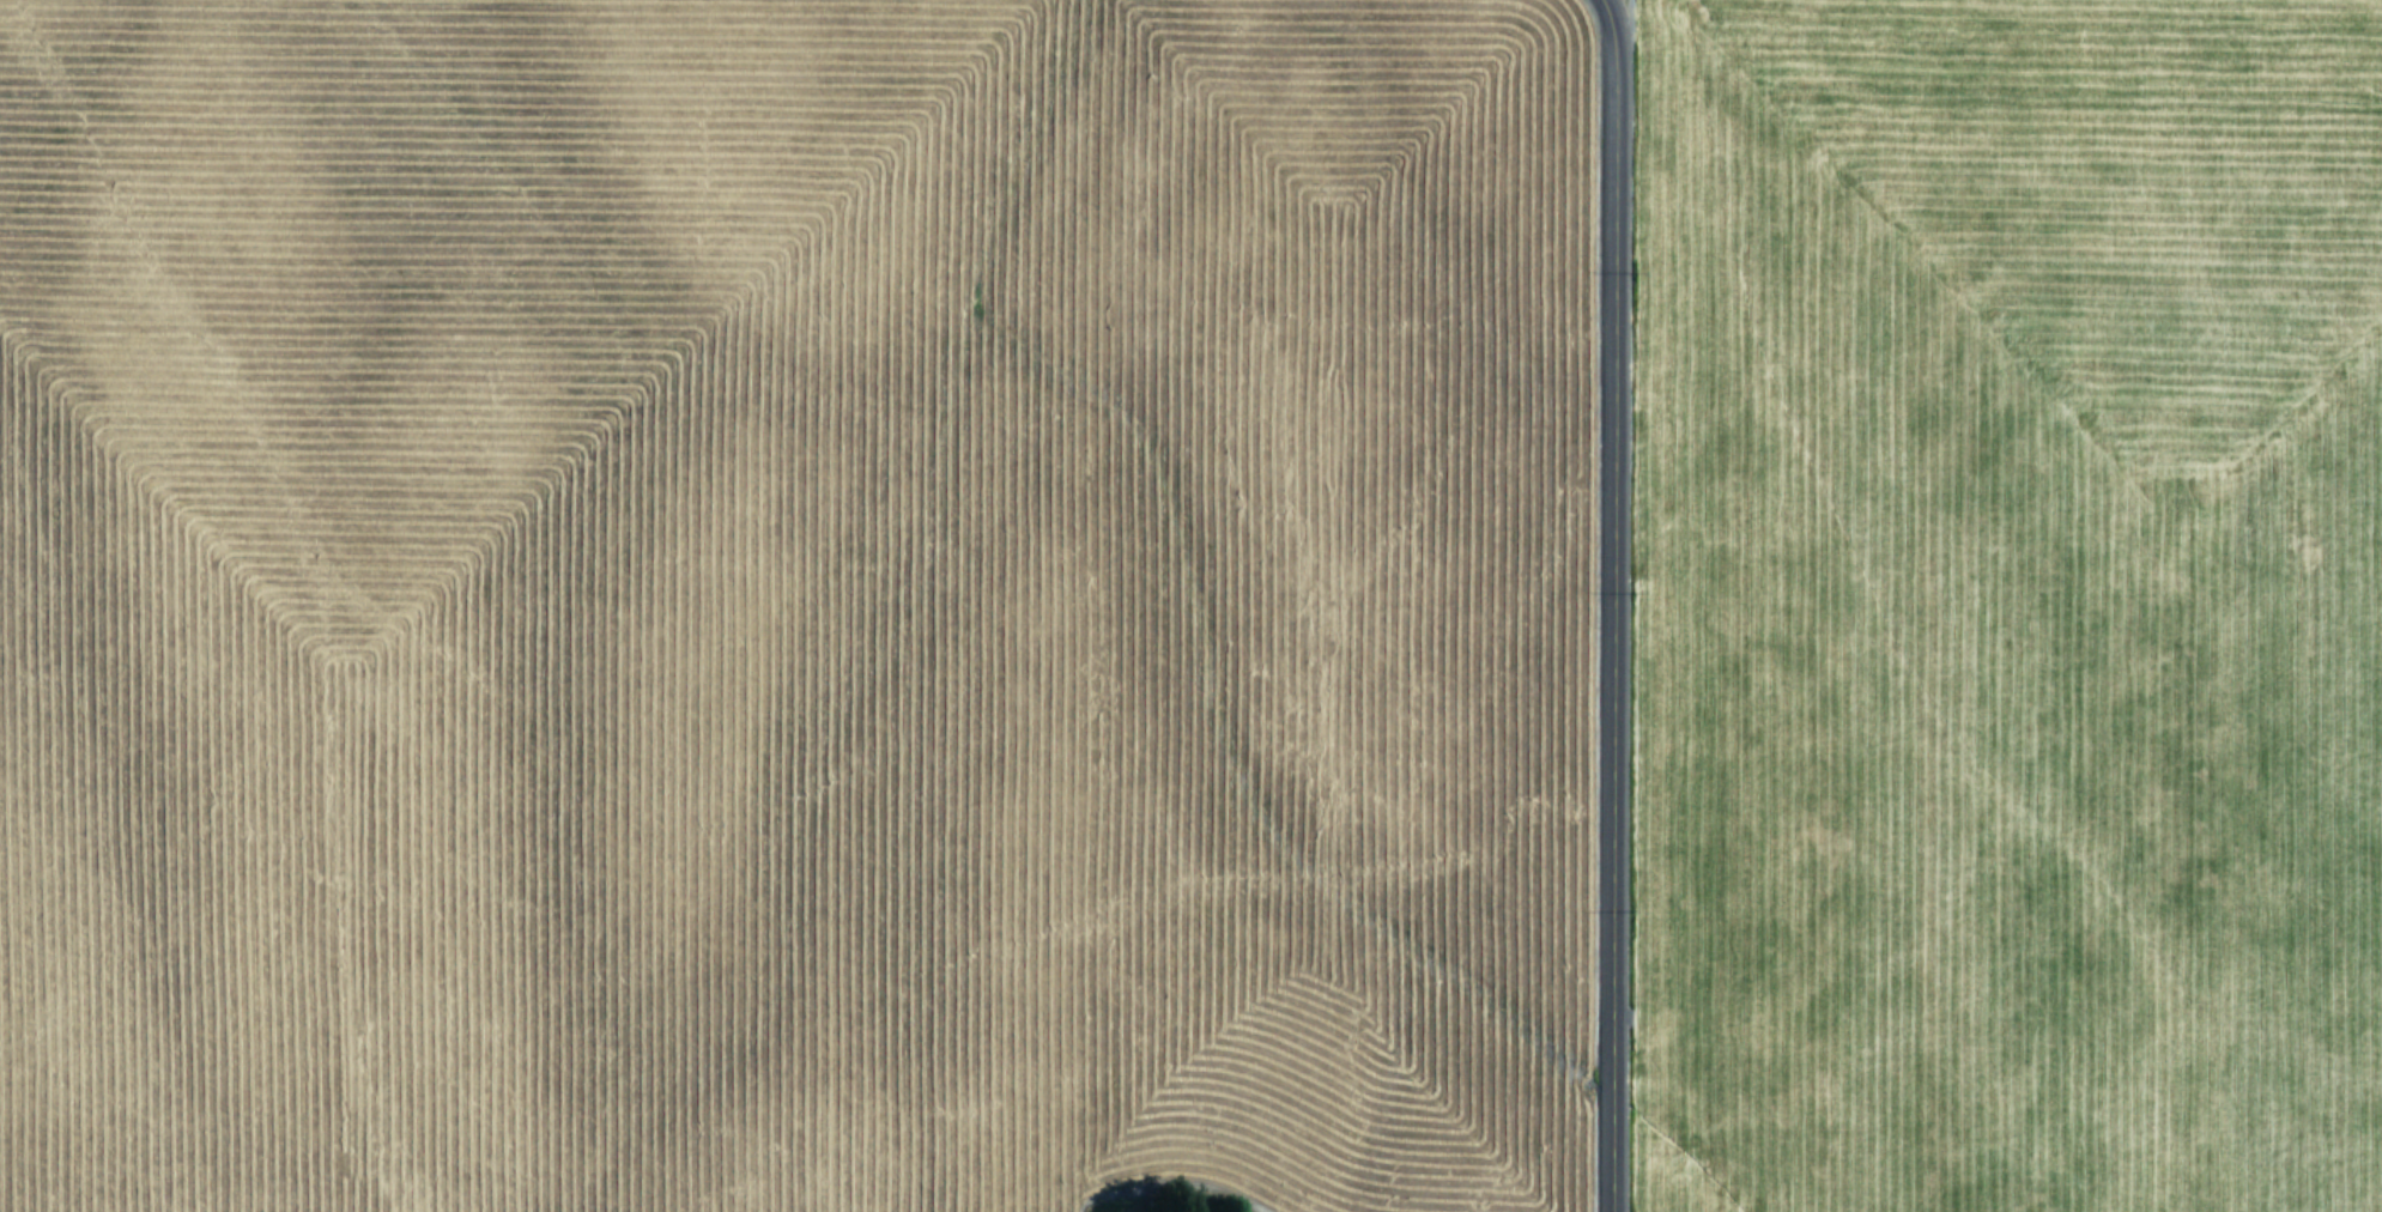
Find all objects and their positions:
road: (1629, 601)
crop: (1190, 606)

